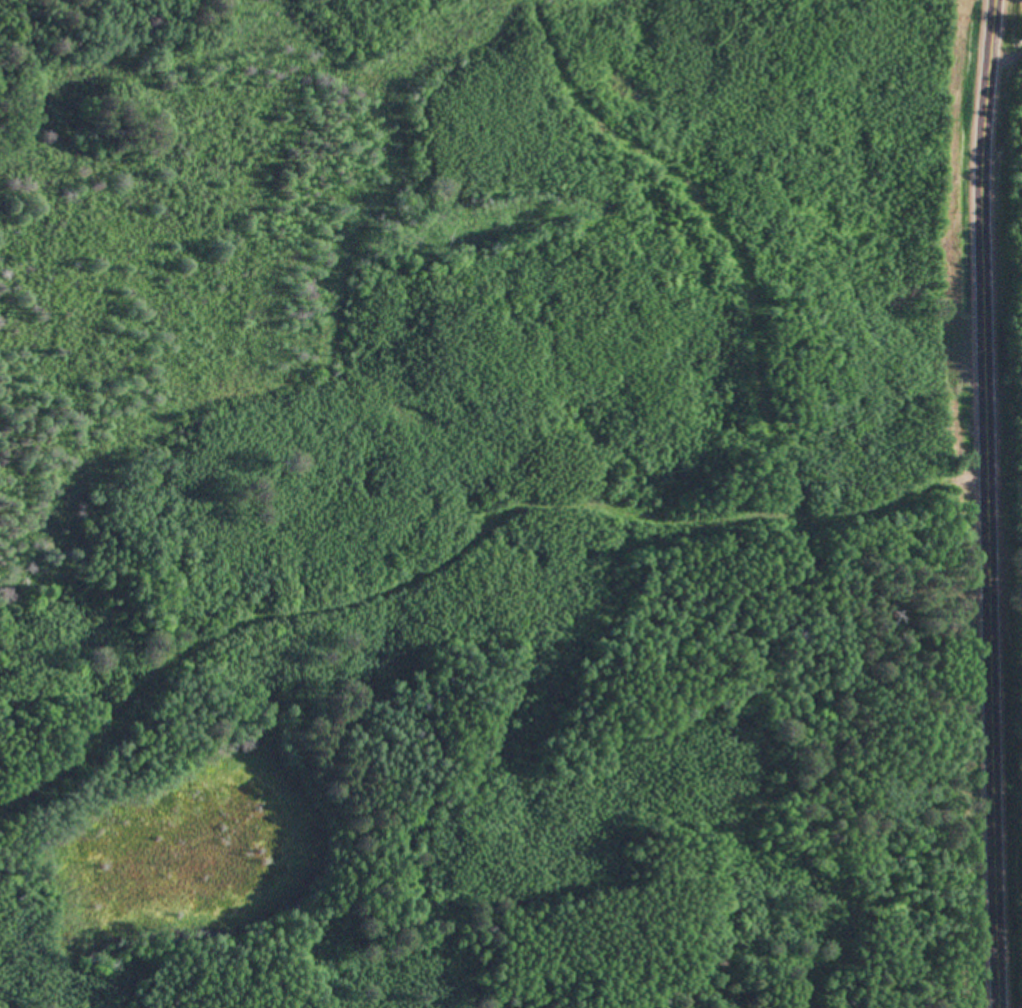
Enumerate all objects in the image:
road: (987, 503)

